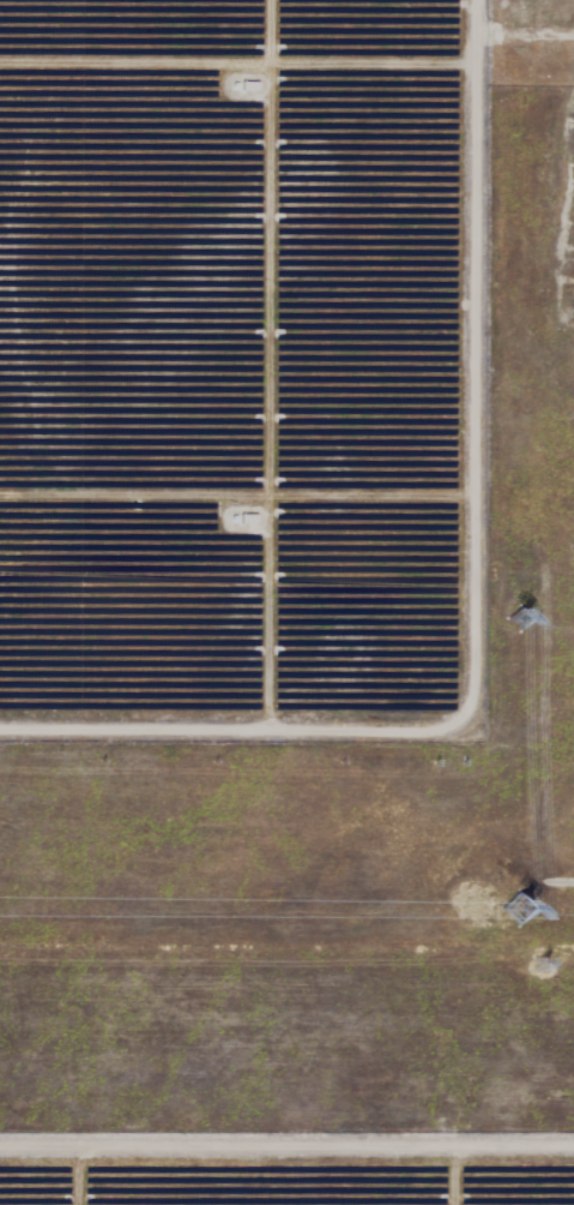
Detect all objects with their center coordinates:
solar farm: (286, 602)
power tower: (500, 615)
power tower: (496, 907)
power tower: (544, 967)

